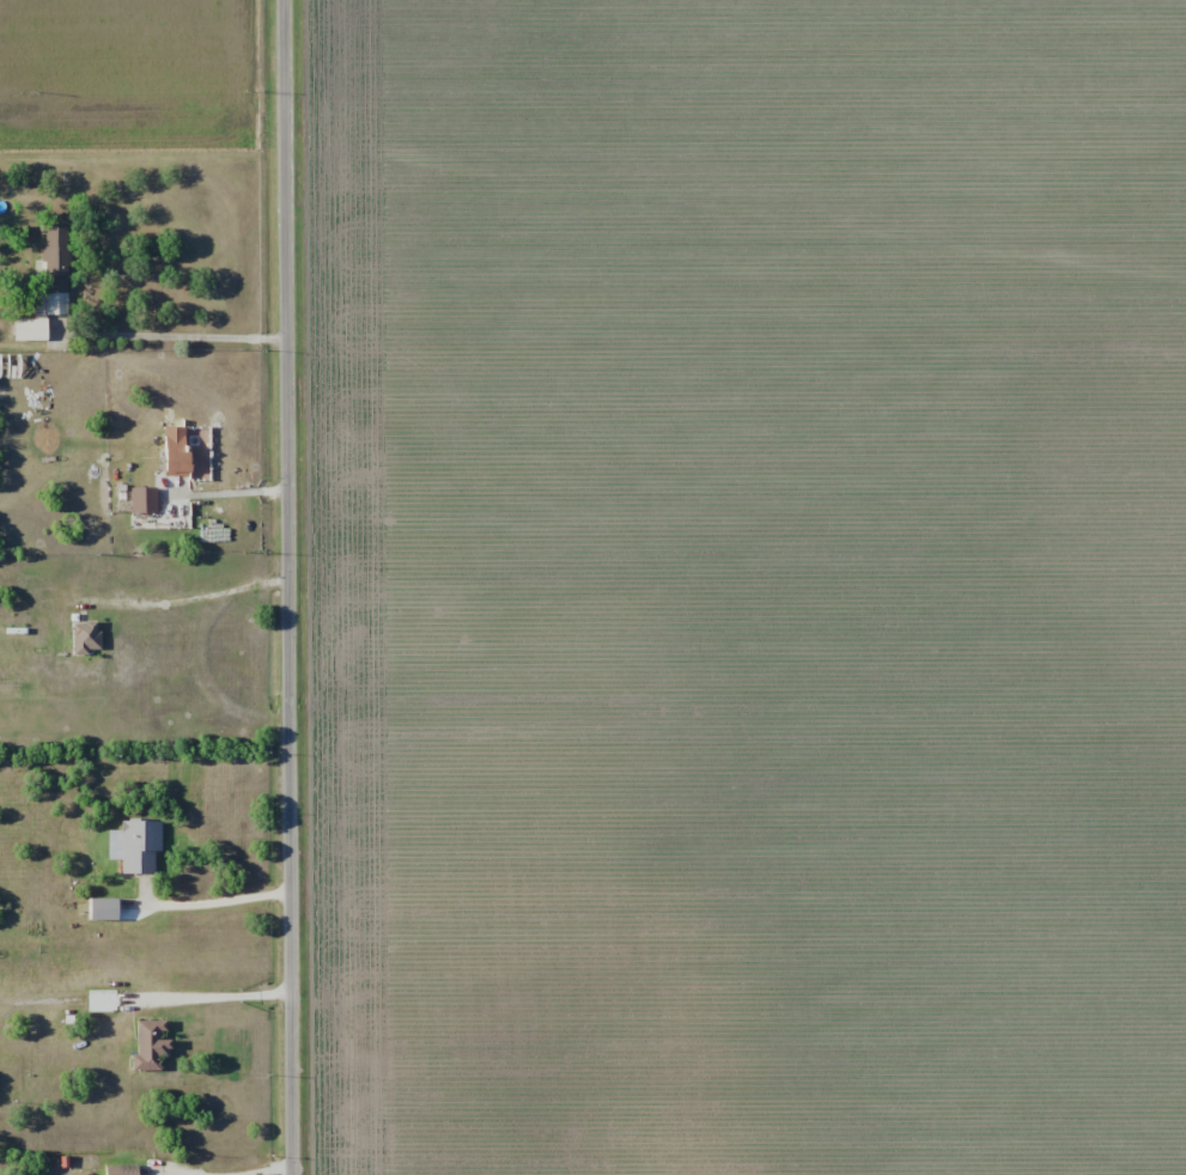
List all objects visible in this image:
building: (55, 269)
building: (31, 328)
building: (178, 450)
road: (236, 489)
building: (144, 499)
road: (288, 587)
building: (86, 637)
building: (136, 846)
road: (214, 997)
building: (129, 1169)
road: (233, 1173)

